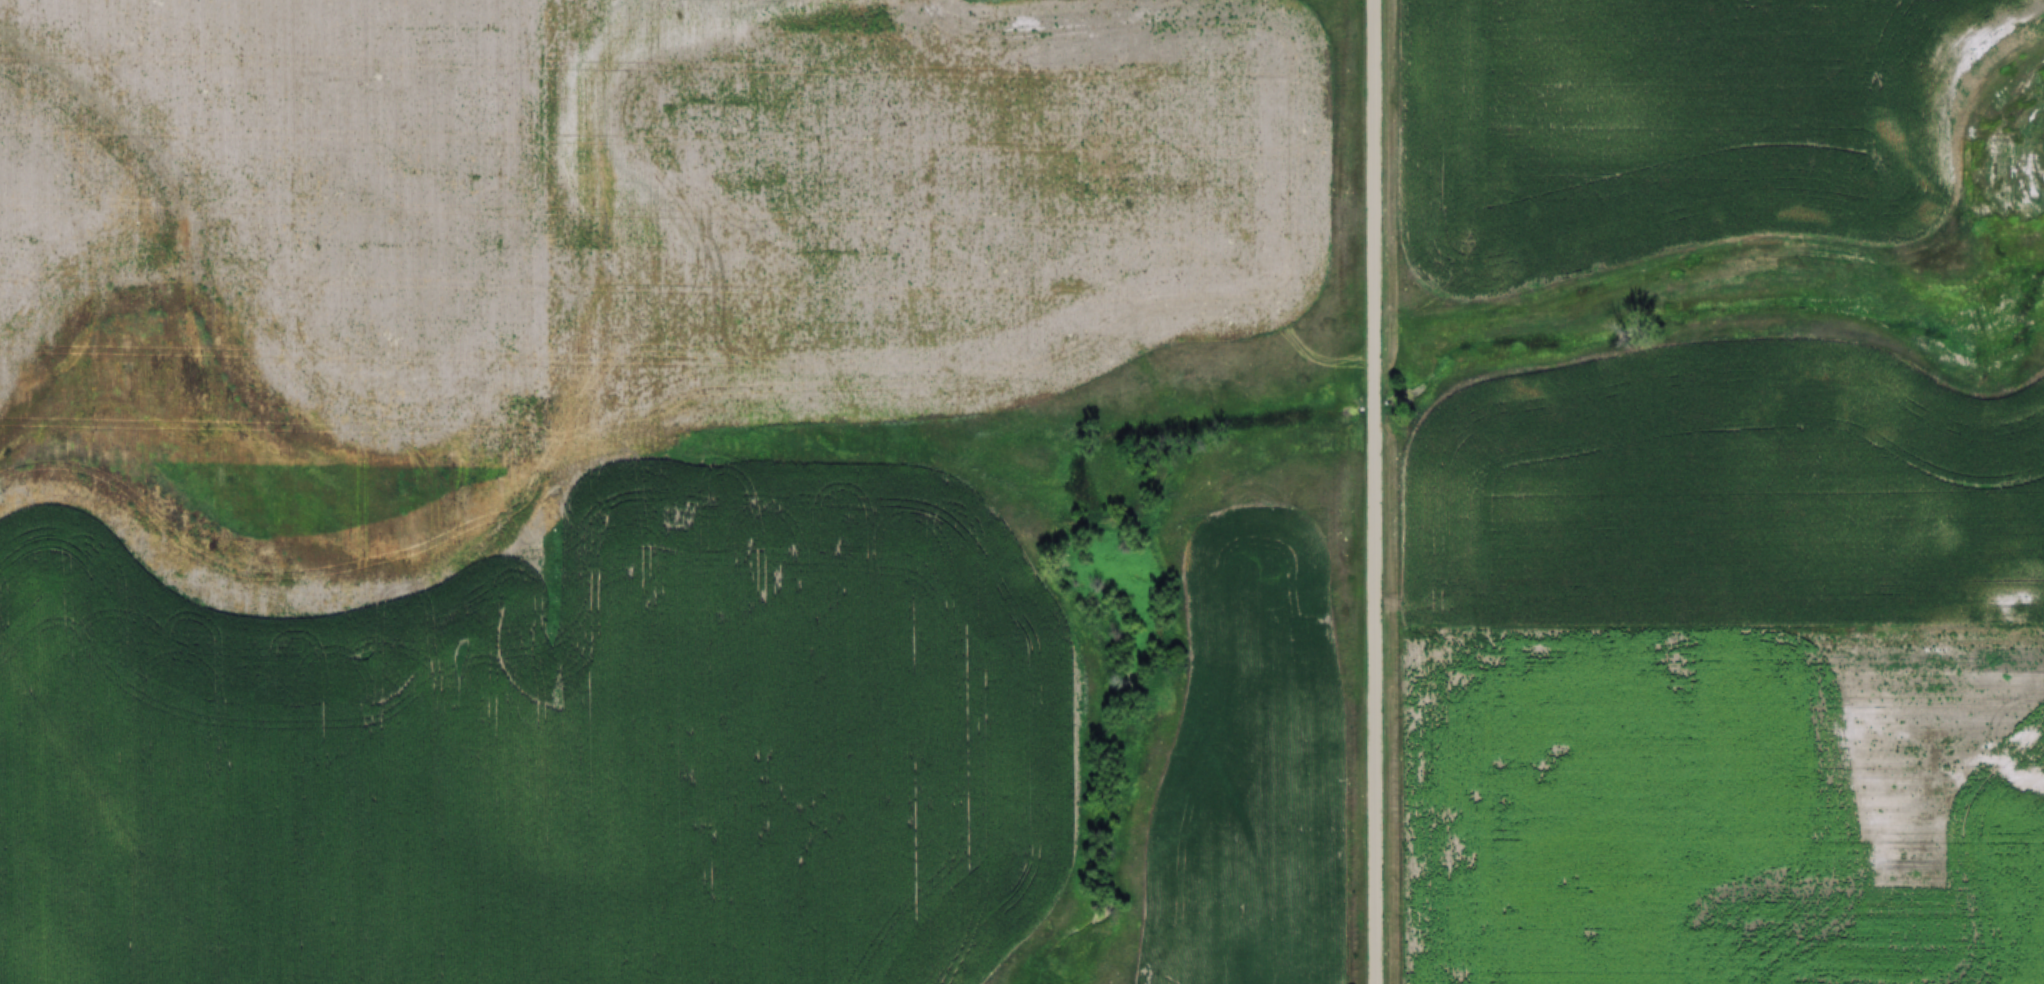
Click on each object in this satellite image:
road: (1380, 492)

